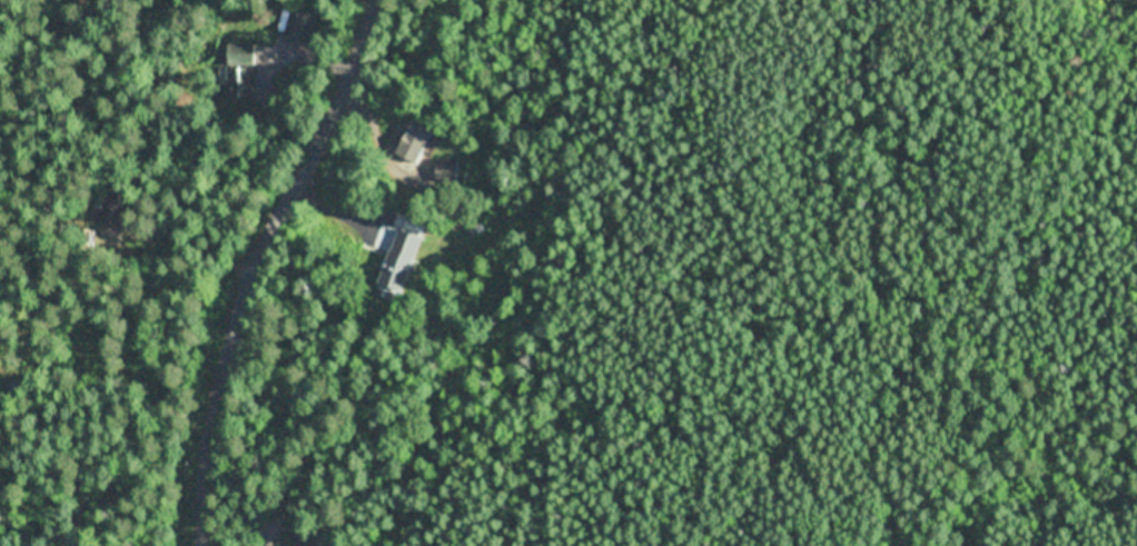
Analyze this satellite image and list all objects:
building: (243, 72)
building: (414, 142)
building: (446, 170)
building: (116, 209)
building: (477, 225)
building: (399, 259)
road: (255, 261)
building: (304, 539)

